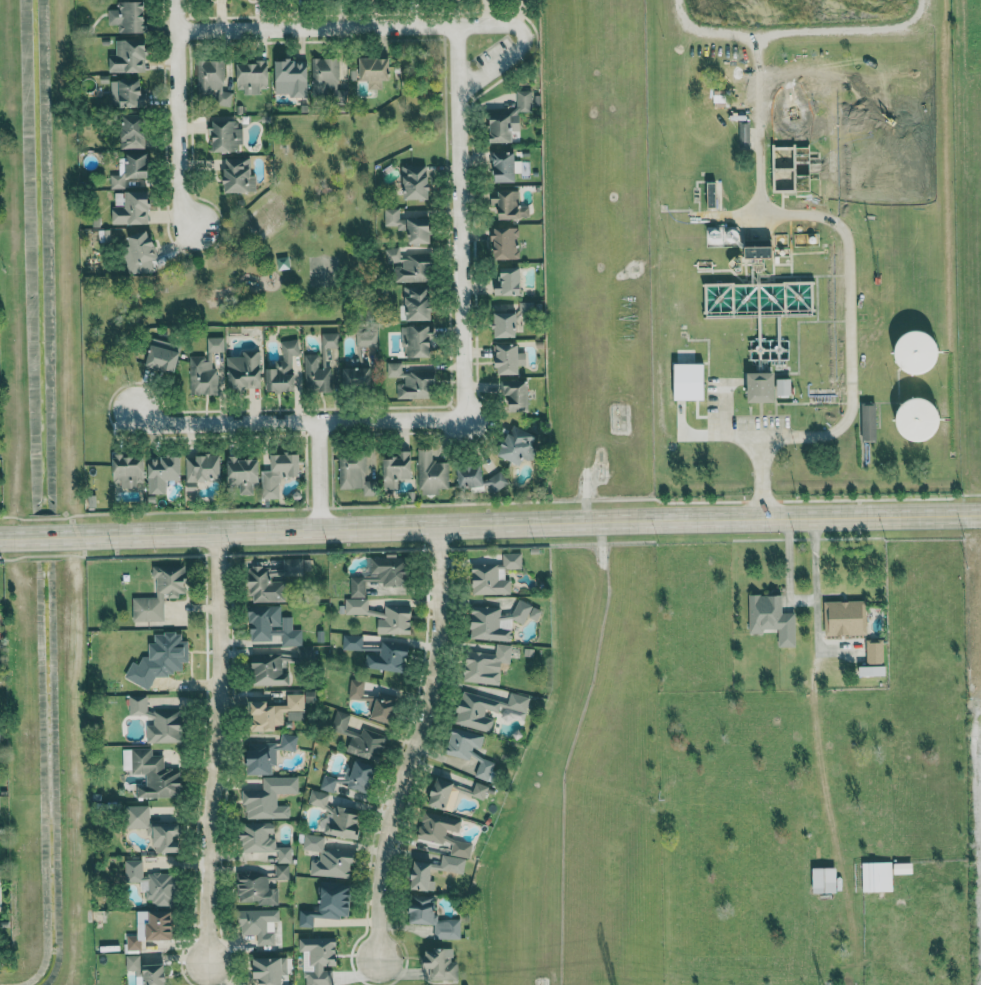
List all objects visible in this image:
building: (129, 17)
road: (357, 26)
building: (129, 55)
road: (457, 57)
building: (372, 70)
building: (253, 76)
building: (325, 76)
building: (291, 77)
building: (214, 80)
building: (126, 92)
road: (177, 114)
building: (511, 117)
building: (133, 130)
building: (226, 135)
building: (745, 135)
building: (138, 163)
building: (503, 165)
building: (784, 168)
building: (239, 173)
building: (117, 180)
building: (416, 181)
building: (508, 204)
building: (133, 208)
park: (317, 209)
road: (461, 216)
building: (410, 225)
building: (722, 236)
building: (505, 241)
building: (142, 246)
building: (759, 248)
building: (410, 265)
building: (509, 281)
building: (419, 302)
building: (506, 324)
building: (366, 337)
building: (330, 339)
building: (417, 340)
building: (920, 351)
building: (164, 354)
building: (510, 358)
road: (850, 364)
building: (206, 368)
building: (285, 369)
building: (245, 370)
building: (318, 370)
building: (357, 377)
building: (690, 380)
building: (413, 381)
building: (783, 385)
building: (763, 386)
building: (516, 393)
building: (921, 418)
road: (298, 421)
building: (869, 421)
building: (521, 443)
building: (397, 468)
building: (129, 469)
building: (202, 469)
building: (163, 471)
building: (432, 472)
building: (243, 473)
building: (279, 473)
building: (355, 473)
road: (318, 475)
building: (479, 478)
road: (490, 527)
building: (381, 573)
building: (495, 575)
building: (275, 579)
building: (160, 592)
road: (802, 600)
building: (356, 605)
building: (526, 612)
building: (772, 617)
building: (845, 617)
building: (395, 619)
building: (490, 623)
building: (273, 625)
building: (352, 641)
building: (875, 651)
building: (306, 653)
building: (390, 657)
building: (160, 658)
building: (487, 664)
building: (269, 670)
building: (873, 670)
building: (356, 688)
building: (383, 709)
building: (488, 709)
building: (277, 712)
building: (157, 720)
building: (360, 738)
building: (463, 742)
road: (415, 745)
road: (215, 748)
building: (268, 754)
building: (484, 768)
building: (156, 775)
building: (360, 776)
building: (328, 783)
building: (480, 790)
building: (443, 794)
building: (270, 798)
building: (318, 798)
building: (137, 816)
building: (341, 821)
building: (443, 832)
building: (167, 838)
building: (263, 840)
building: (329, 858)
building: (904, 867)
building: (282, 871)
building: (423, 875)
building: (877, 876)
building: (825, 880)
building: (153, 883)
building: (256, 889)
building: (328, 904)
building: (433, 917)
building: (259, 924)
building: (160, 925)
building: (134, 942)
building: (320, 959)
building: (441, 964)
building: (147, 970)
building: (270, 970)

